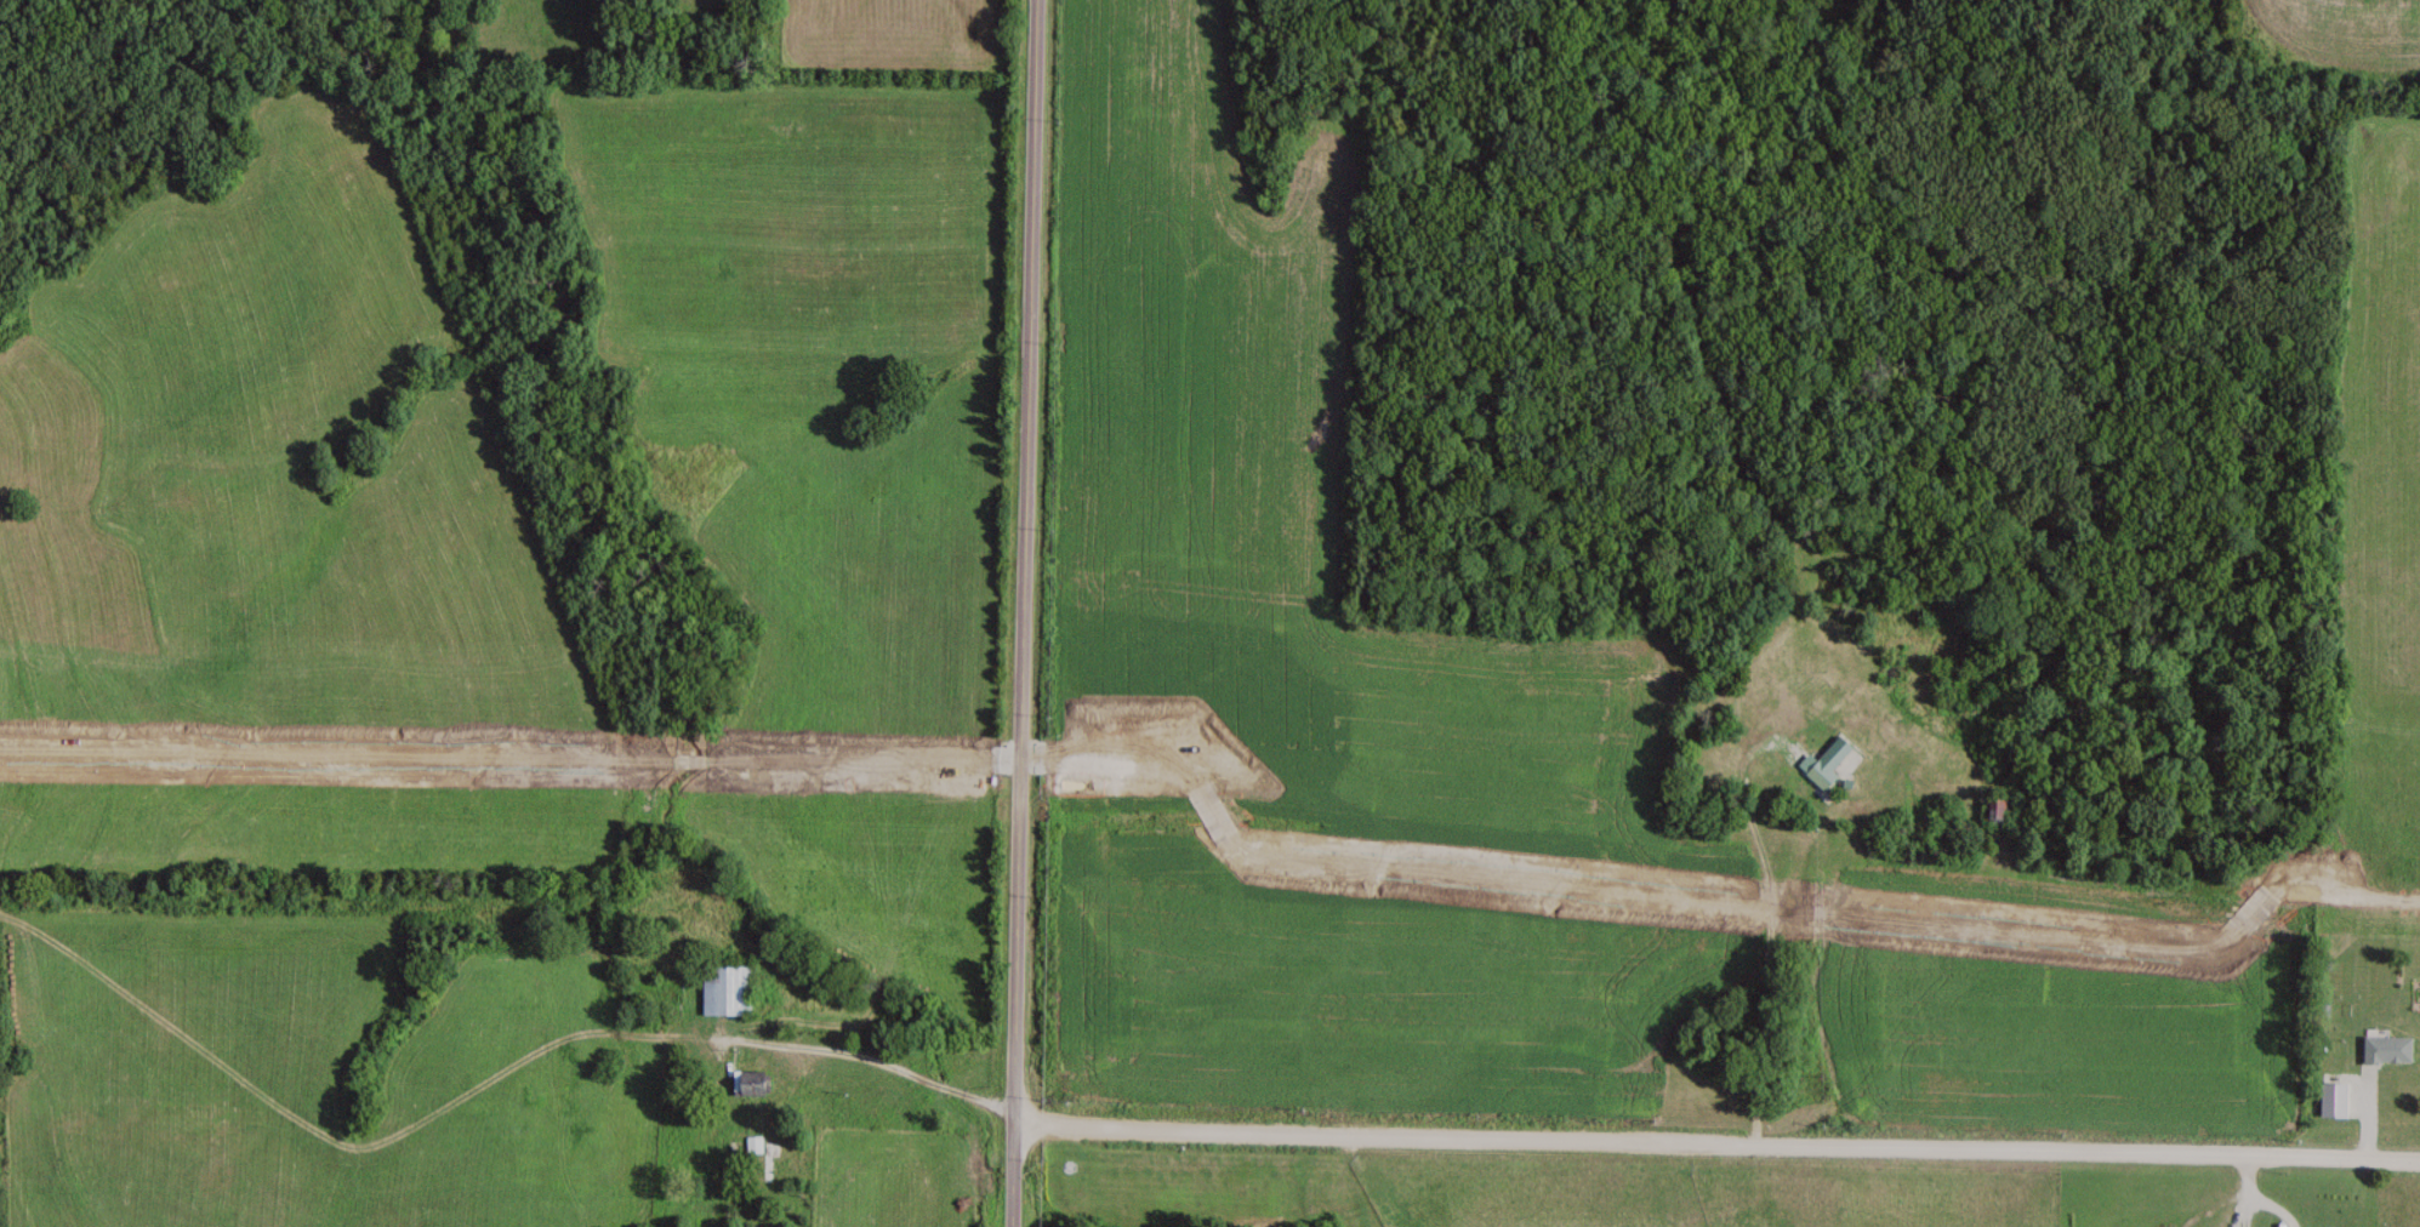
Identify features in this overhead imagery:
road: (1031, 613)
building: (1935, 778)
building: (2000, 805)
building: (735, 987)
building: (2385, 1048)
road: (895, 1071)
building: (759, 1080)
road: (1723, 1107)
building: (774, 1158)
building: (2164, 1225)

